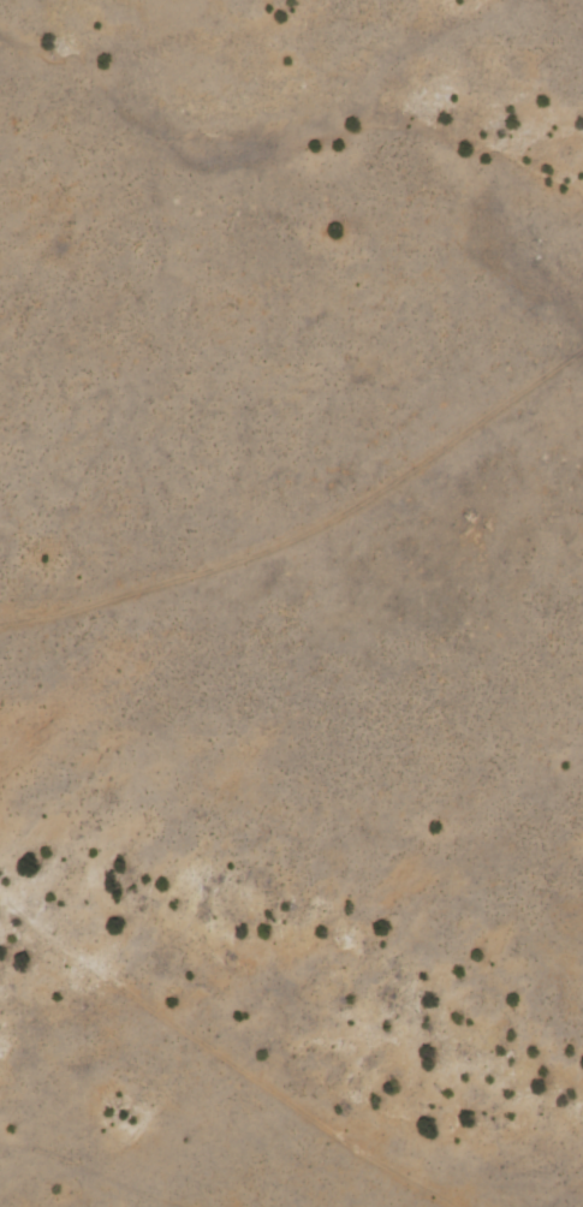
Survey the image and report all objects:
road: (256, 1029)

